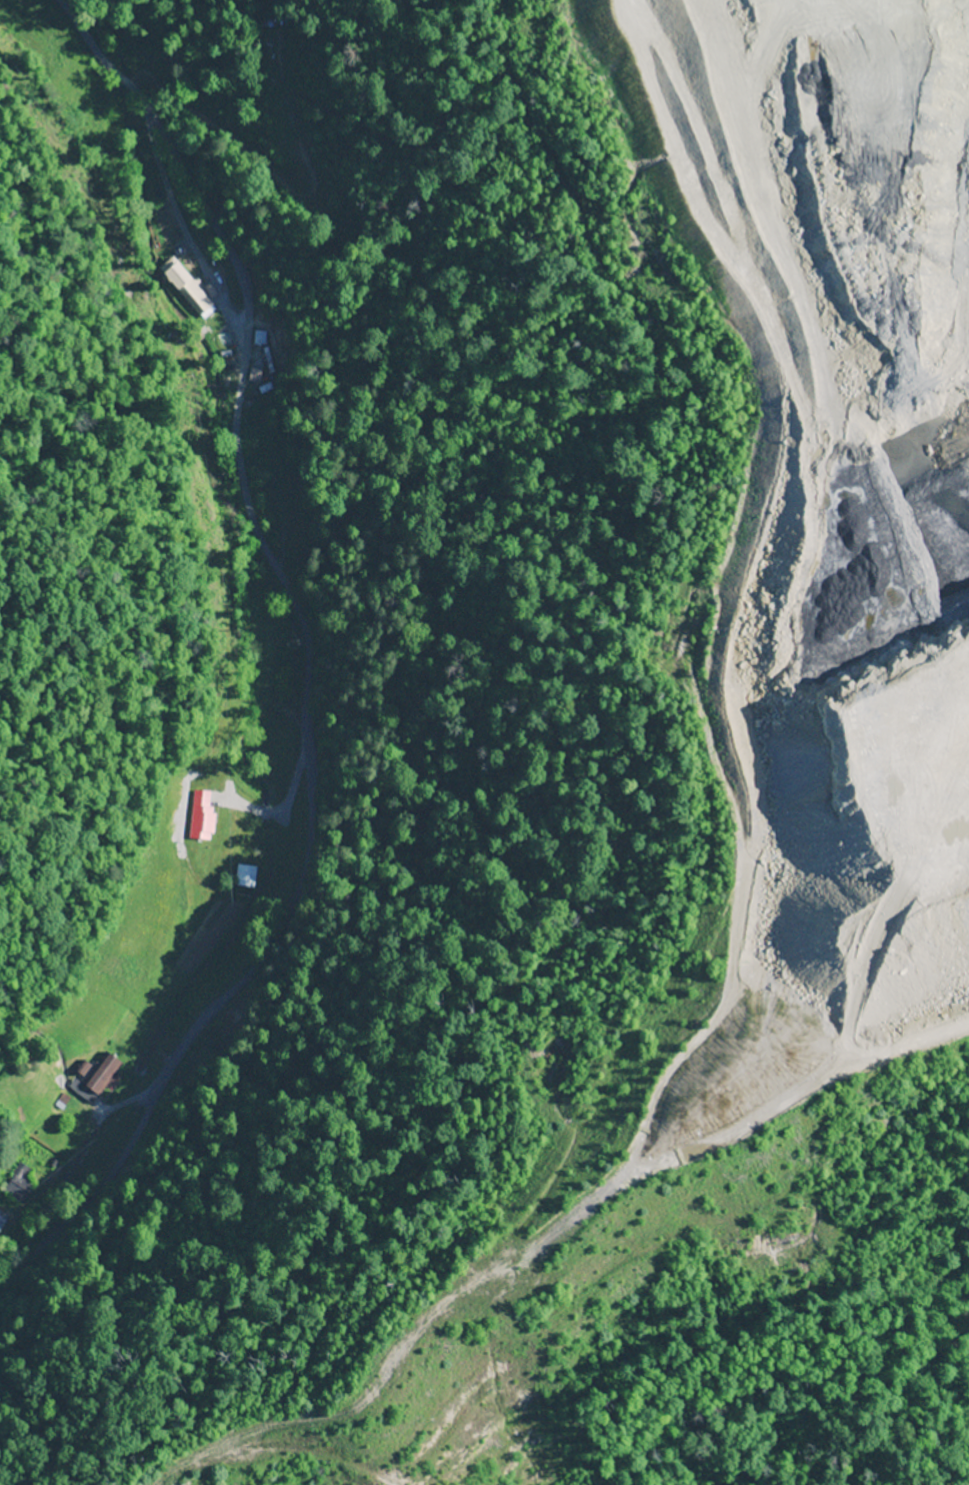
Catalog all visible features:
building: (194, 297)
road: (301, 622)
building: (201, 816)
building: (244, 877)
road: (166, 1073)
building: (100, 1075)
building: (18, 1184)
building: (2, 1220)

